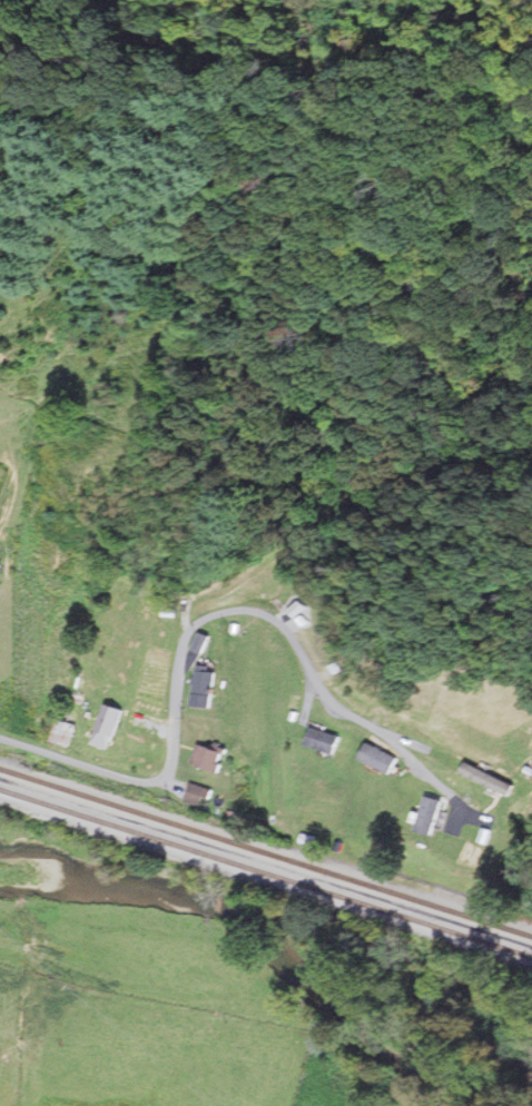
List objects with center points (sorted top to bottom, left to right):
building: (2, 569)
road: (197, 622)
building: (209, 687)
building: (112, 722)
building: (325, 740)
building: (215, 758)
building: (381, 758)
building: (204, 793)
building: (432, 814)
railway: (265, 850)
railway: (266, 871)

